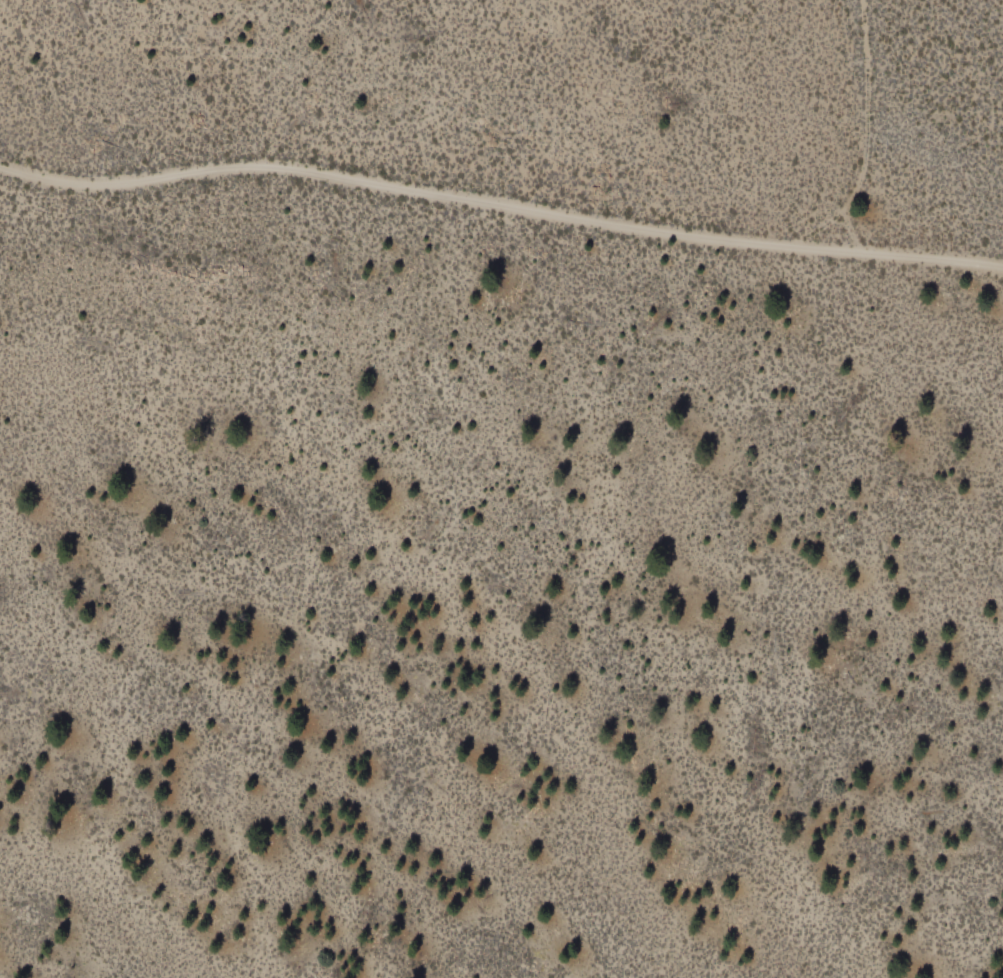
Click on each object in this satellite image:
road: (872, 131)
road: (500, 212)

